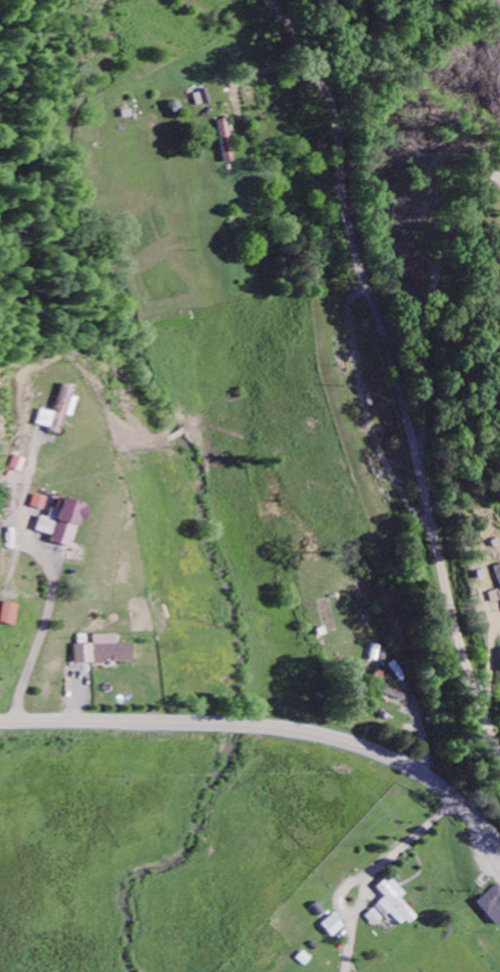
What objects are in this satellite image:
building: (225, 139)
road: (390, 374)
building: (56, 408)
building: (19, 461)
building: (40, 500)
building: (61, 520)
building: (498, 576)
building: (6, 611)
building: (103, 648)
building: (387, 685)
road: (268, 727)
building: (394, 901)
building: (374, 915)
building: (332, 923)

